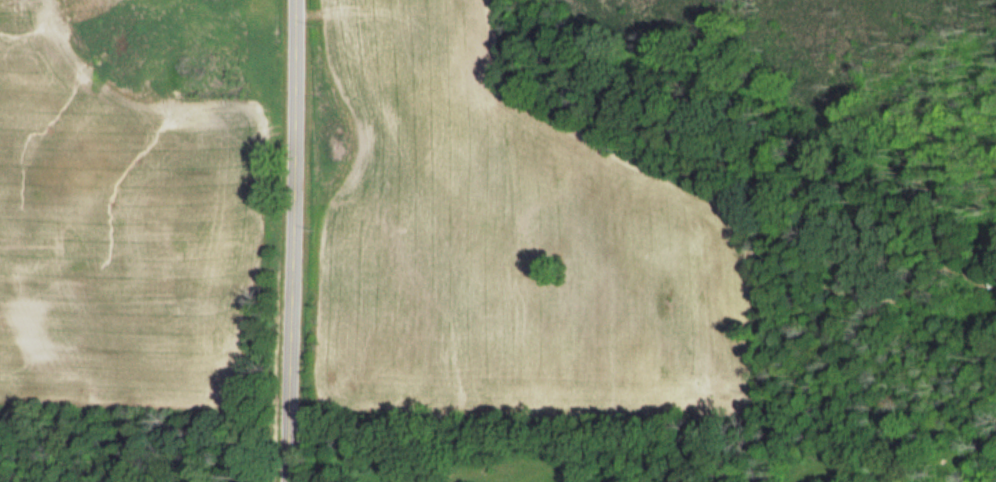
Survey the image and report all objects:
road: (288, 240)

